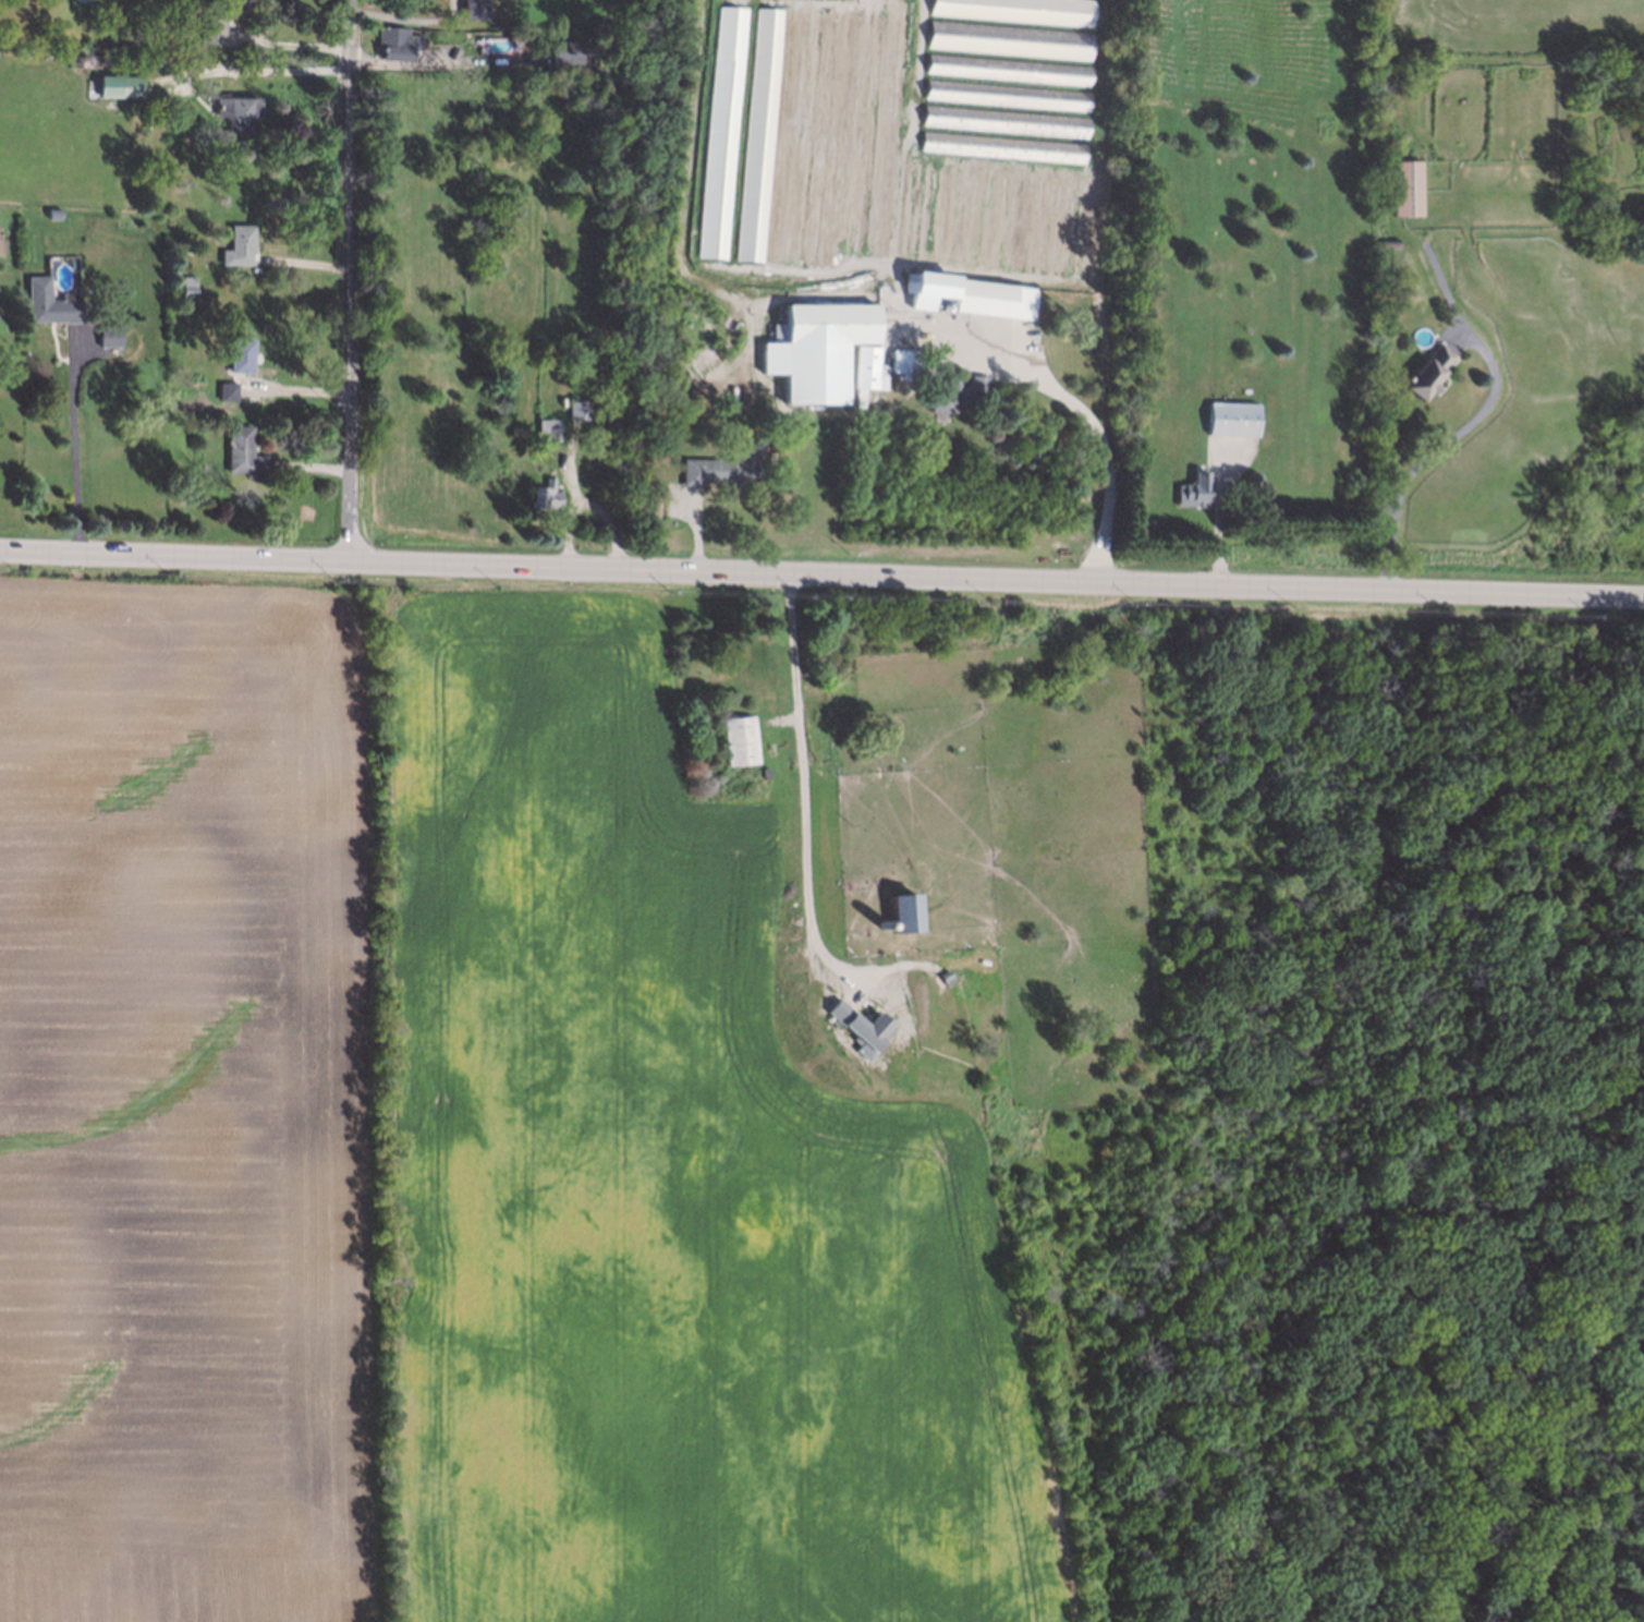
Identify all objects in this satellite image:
building: (232, 3)
building: (468, 8)
building: (89, 11)
building: (1020, 11)
building: (207, 34)
building: (393, 41)
building: (1010, 41)
building: (563, 50)
building: (125, 59)
road: (268, 70)
building: (1009, 71)
building: (118, 84)
building: (1007, 95)
building: (234, 112)
building: (1006, 121)
building: (719, 130)
building: (861, 134)
building: (759, 135)
building: (888, 137)
building: (794, 138)
building: (829, 140)
building: (1004, 147)
building: (1404, 186)
building: (53, 210)
building: (915, 211)
building: (942, 214)
building: (969, 216)
building: (991, 217)
building: (1014, 220)
building: (1038, 222)
building: (1061, 225)
building: (1085, 226)
building: (238, 242)
building: (1387, 244)
road: (1440, 278)
road: (350, 280)
building: (185, 286)
building: (969, 295)
building: (46, 302)
building: (107, 334)
building: (816, 349)
building: (239, 352)
building: (701, 354)
building: (902, 363)
building: (1424, 370)
building: (869, 378)
building: (976, 385)
building: (226, 390)
building: (945, 391)
building: (574, 408)
road: (1085, 415)
building: (1231, 417)
building: (546, 427)
road: (1434, 446)
building: (241, 449)
road: (75, 455)
building: (717, 465)
building: (1197, 485)
building: (543, 495)
road: (821, 574)
building: (750, 655)
building: (800, 670)
building: (736, 737)
building: (780, 742)
building: (760, 774)
road: (805, 789)
building: (901, 911)
building: (880, 923)
building: (862, 1028)
park: (1517, 1112)
road: (1544, 1203)
road: (1450, 1252)

